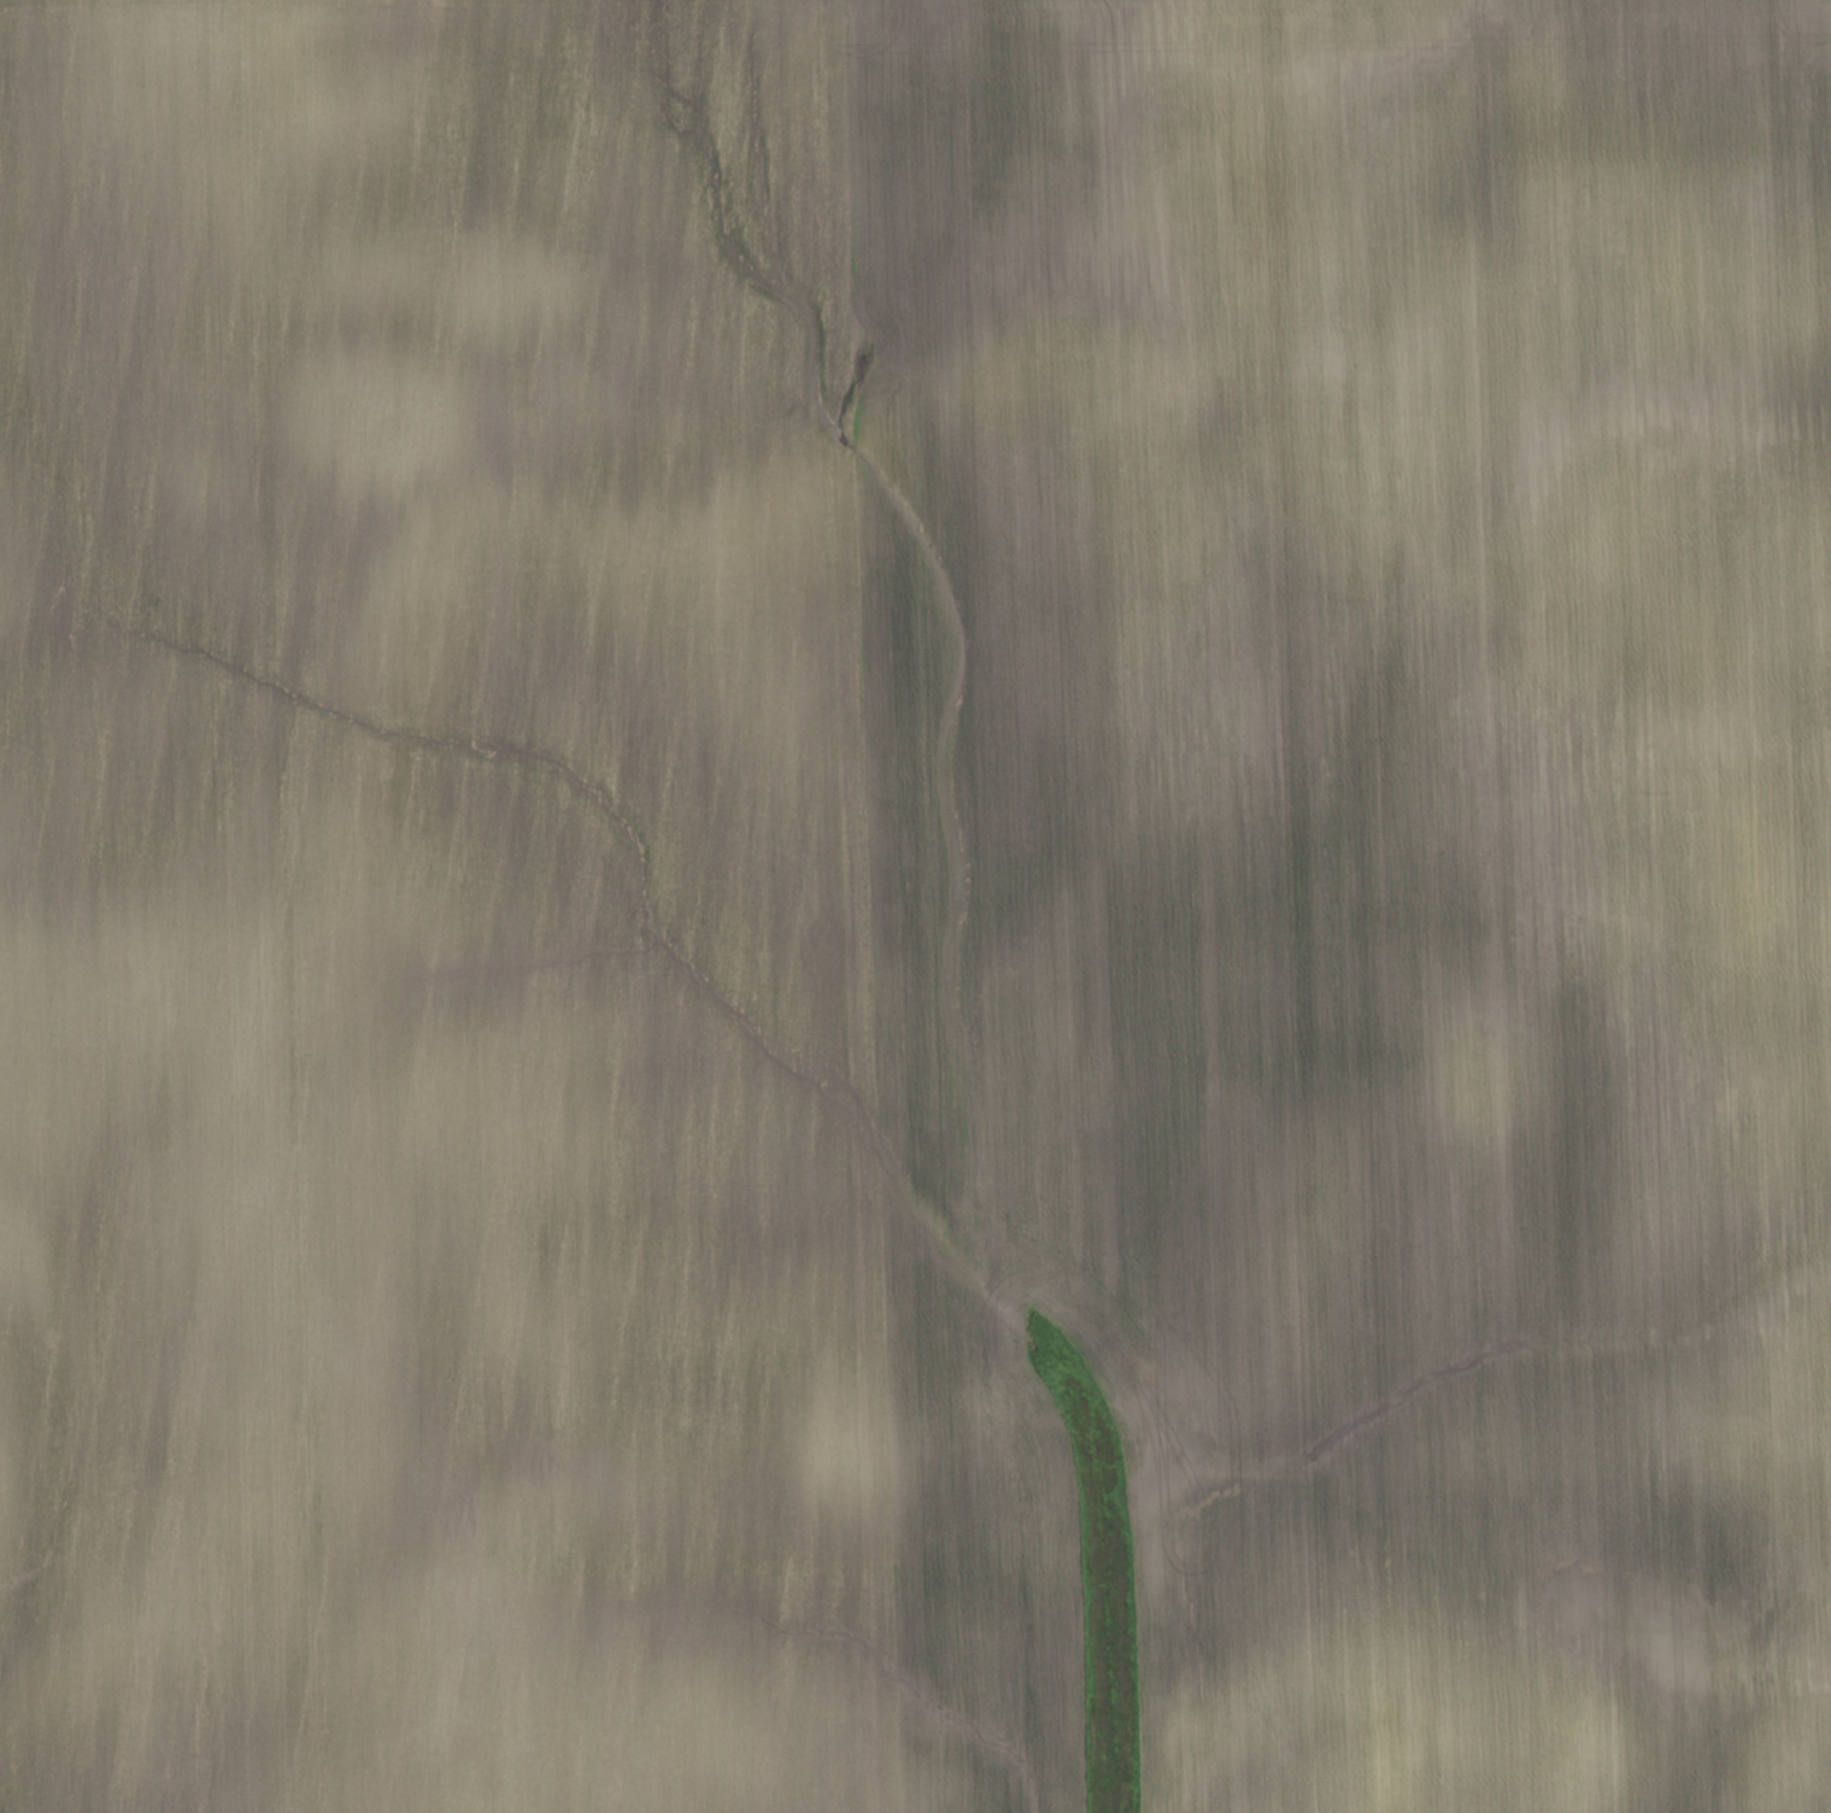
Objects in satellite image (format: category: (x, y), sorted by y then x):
crop: (914, 900)

